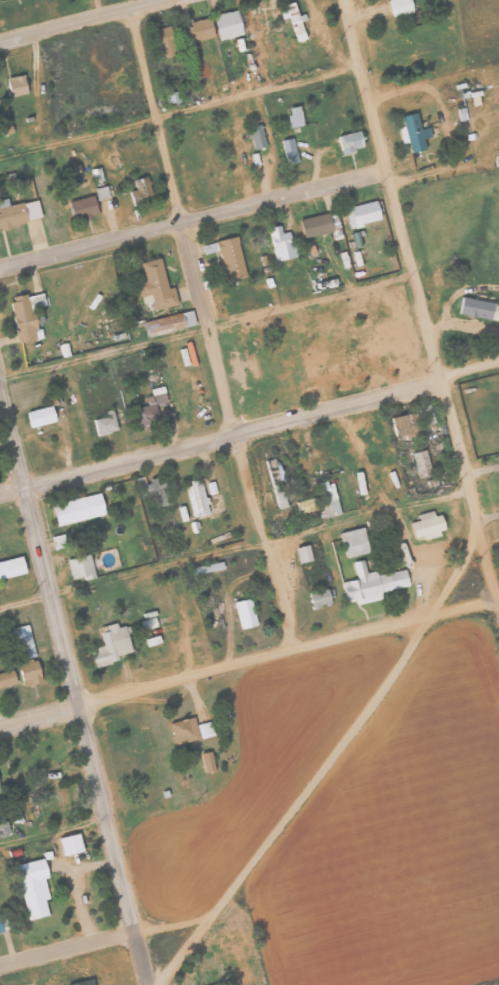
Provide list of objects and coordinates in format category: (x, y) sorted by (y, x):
building: (400, 7)
road: (79, 20)
building: (293, 21)
building: (226, 24)
building: (199, 29)
building: (165, 41)
building: (15, 85)
road: (179, 111)
building: (294, 116)
building: (412, 132)
building: (256, 136)
building: (350, 141)
building: (289, 150)
building: (96, 175)
building: (140, 188)
building: (100, 192)
building: (82, 207)
building: (19, 213)
building: (361, 214)
road: (192, 220)
building: (315, 225)
building: (355, 238)
building: (281, 244)
building: (227, 256)
building: (155, 286)
road: (417, 299)
building: (479, 309)
building: (25, 315)
building: (169, 323)
road: (205, 327)
road: (208, 329)
building: (149, 407)
building: (39, 416)
building: (105, 423)
building: (401, 425)
road: (249, 430)
building: (420, 463)
building: (156, 490)
building: (280, 497)
building: (196, 498)
building: (327, 499)
building: (306, 506)
building: (77, 509)
building: (427, 525)
building: (353, 542)
road: (234, 550)
building: (302, 553)
building: (11, 567)
building: (80, 567)
building: (371, 584)
building: (318, 598)
building: (245, 613)
building: (23, 642)
building: (111, 645)
road: (248, 662)
building: (29, 673)
building: (7, 678)
road: (74, 688)
building: (189, 730)
road: (325, 759)
building: (207, 762)
building: (3, 820)
road: (52, 830)
building: (70, 844)
building: (32, 887)
building: (0, 929)
road: (106, 941)
building: (82, 982)
road: (497, 984)

